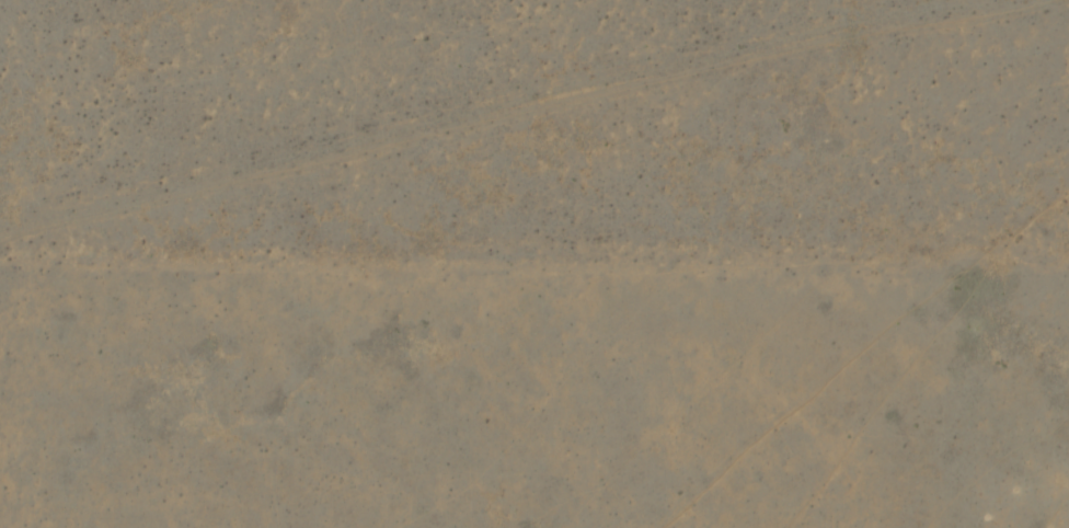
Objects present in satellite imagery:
road: (485, 134)

